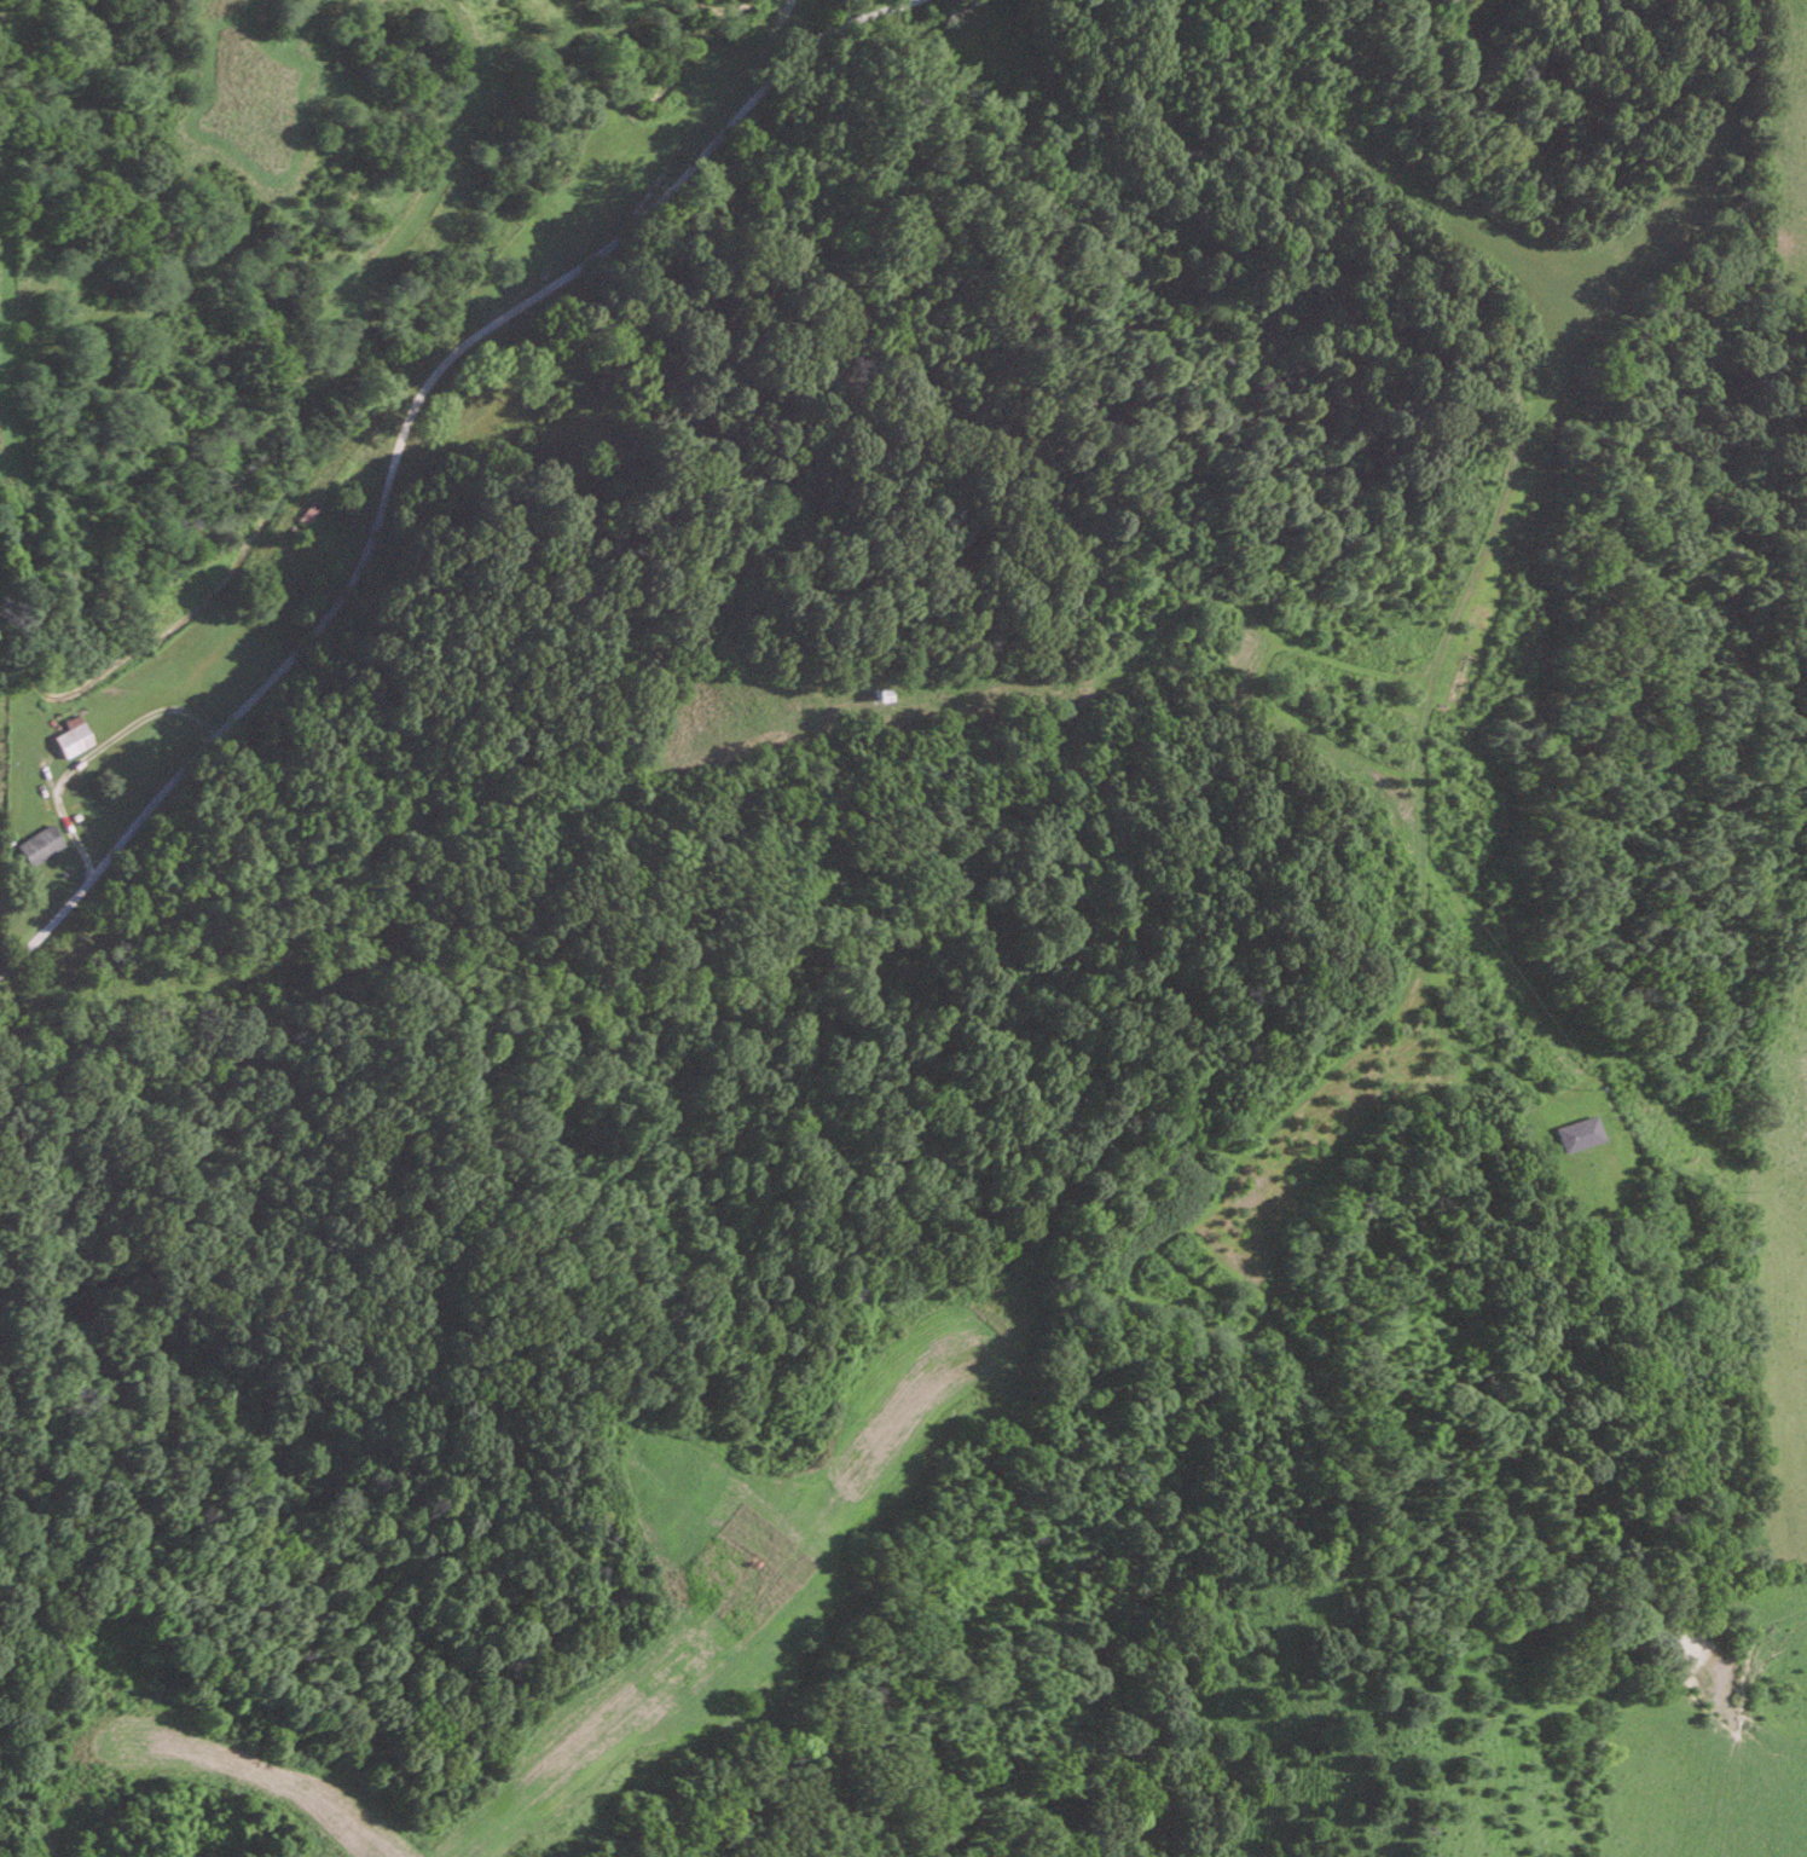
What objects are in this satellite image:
road: (729, 92)
road: (1272, 357)
road: (402, 430)
building: (76, 736)
building: (45, 845)
building: (1582, 1132)

